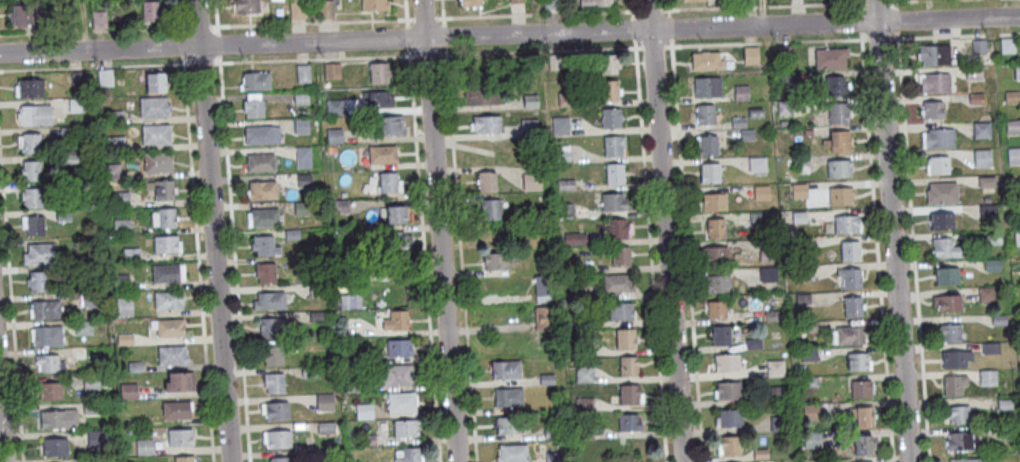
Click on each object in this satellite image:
building: (696, 0)
building: (516, 1)
road: (858, 1)
road: (893, 1)
road: (915, 1)
building: (471, 2)
road: (876, 2)
building: (375, 3)
building: (550, 3)
building: (595, 3)
road: (668, 4)
road: (631, 5)
building: (245, 6)
road: (764, 6)
building: (326, 7)
building: (297, 8)
road: (405, 9)
road: (442, 9)
road: (650, 9)
building: (26, 10)
building: (151, 10)
road: (177, 13)
road: (215, 13)
road: (537, 14)
road: (424, 18)
road: (895, 19)
building: (100, 20)
building: (70, 21)
road: (859, 21)
road: (311, 22)
road: (197, 26)
road: (670, 27)
road: (89, 30)
road: (443, 35)
road: (510, 35)
road: (958, 35)
road: (407, 36)
road: (879, 38)
road: (218, 43)
road: (766, 43)
building: (1007, 44)
building: (979, 45)
road: (654, 47)
road: (540, 51)
building: (784, 52)
building: (935, 52)
road: (426, 54)
building: (751, 54)
building: (831, 56)
road: (314, 58)
building: (707, 59)
road: (202, 61)
building: (555, 61)
building: (608, 61)
road: (92, 66)
building: (333, 69)
building: (380, 70)
building: (974, 70)
building: (1017, 70)
building: (304, 72)
building: (106, 76)
building: (76, 77)
building: (257, 78)
building: (784, 79)
building: (156, 80)
building: (935, 80)
building: (836, 82)
building: (707, 85)
building: (31, 86)
building: (609, 87)
building: (742, 92)
building: (481, 93)
building: (1012, 96)
building: (976, 97)
building: (302, 98)
building: (381, 98)
building: (566, 98)
building: (530, 100)
building: (76, 104)
building: (154, 105)
building: (253, 106)
building: (335, 106)
building: (784, 106)
building: (932, 107)
building: (838, 110)
building: (756, 111)
building: (705, 112)
building: (36, 114)
building: (116, 115)
building: (611, 116)
building: (739, 121)
building: (390, 123)
building: (486, 123)
building: (1013, 124)
building: (302, 125)
building: (561, 125)
building: (529, 126)
building: (982, 128)
building: (808, 130)
building: (67, 131)
building: (262, 132)
building: (156, 133)
building: (747, 133)
building: (334, 135)
building: (940, 136)
building: (840, 138)
building: (30, 141)
building: (115, 141)
building: (708, 142)
building: (614, 143)
building: (383, 153)
building: (562, 153)
building: (1014, 154)
building: (304, 156)
building: (982, 157)
building: (70, 158)
building: (802, 159)
building: (158, 160)
building: (261, 160)
building: (757, 162)
building: (939, 163)
building: (839, 166)
building: (32, 169)
building: (112, 170)
building: (710, 171)
building: (615, 172)
building: (304, 179)
building: (486, 180)
building: (390, 181)
building: (532, 181)
building: (987, 181)
building: (1019, 183)
building: (566, 184)
building: (164, 188)
building: (263, 188)
building: (800, 189)
building: (761, 191)
building: (942, 192)
building: (840, 193)
building: (33, 196)
building: (121, 198)
building: (714, 199)
building: (614, 200)
building: (340, 205)
building: (305, 207)
building: (490, 207)
building: (567, 210)
building: (989, 210)
building: (396, 211)
building: (64, 215)
building: (167, 216)
building: (265, 216)
building: (799, 216)
building: (757, 218)
building: (943, 219)
building: (847, 222)
building: (33, 223)
building: (122, 226)
building: (716, 226)
building: (619, 227)
road: (211, 231)
road: (438, 231)
road: (665, 231)
road: (892, 231)
building: (292, 234)
building: (993, 237)
building: (1017, 237)
building: (393, 238)
building: (575, 238)
building: (804, 242)
building: (166, 244)
building: (265, 244)
building: (945, 247)
building: (767, 249)
building: (850, 249)
road: (876, 250)
road: (912, 250)
building: (715, 252)
building: (40, 253)
building: (132, 254)
road: (687, 254)
building: (621, 255)
road: (650, 255)
road: (460, 257)
road: (424, 258)
building: (496, 259)
road: (233, 261)
road: (197, 262)
building: (347, 262)
building: (572, 264)
building: (992, 264)
building: (169, 271)
building: (266, 271)
building: (768, 272)
building: (806, 272)
building: (947, 273)
building: (850, 275)
building: (38, 279)
building: (121, 281)
building: (718, 281)
building: (618, 282)
building: (544, 288)
building: (317, 291)
building: (578, 293)
building: (986, 293)
building: (169, 298)
building: (803, 298)
building: (91, 299)
building: (270, 300)
building: (948, 300)
building: (351, 301)
building: (853, 304)
building: (124, 306)
road: (11, 307)
building: (46, 308)
building: (717, 308)
building: (621, 310)
building: (772, 314)
building: (318, 316)
building: (545, 318)
building: (396, 319)
building: (999, 319)
building: (576, 320)
building: (808, 325)
building: (84, 326)
building: (170, 326)
building: (273, 326)
building: (950, 330)
building: (721, 333)
building: (48, 334)
building: (848, 334)
building: (125, 338)
building: (626, 338)
building: (753, 342)
building: (295, 344)
building: (399, 346)
building: (584, 347)
building: (991, 347)
building: (78, 352)
building: (173, 353)
building: (272, 354)
building: (809, 354)
building: (956, 356)
building: (726, 360)
building: (858, 360)
building: (51, 361)
building: (135, 365)
building: (628, 365)
building: (775, 367)
building: (506, 368)
building: (309, 371)
building: (398, 373)
building: (584, 373)
building: (988, 377)
building: (547, 378)
building: (180, 379)
building: (92, 381)
building: (274, 381)
building: (811, 381)
building: (357, 382)
building: (954, 383)
building: (861, 387)
building: (50, 389)
building: (728, 389)
building: (128, 390)
building: (630, 393)
building: (776, 394)
building: (508, 395)
building: (325, 401)
building: (401, 401)
building: (584, 403)
building: (1005, 403)
building: (92, 407)
building: (176, 408)
building: (277, 409)
building: (365, 410)
building: (812, 412)
building: (958, 412)
building: (864, 413)
building: (730, 417)
building: (59, 418)
building: (629, 421)
building: (509, 423)
building: (775, 423)
building: (326, 426)
building: (405, 426)
building: (584, 431)
building: (1008, 431)
building: (552, 432)
building: (180, 435)
building: (277, 437)
building: (97, 438)
building: (368, 438)
building: (963, 438)
building: (812, 439)
road: (1, 441)
building: (864, 442)
building: (730, 444)
building: (55, 445)
building: (145, 446)
building: (512, 452)
building: (760, 453)
building: (327, 454)
building: (407, 454)
building: (554, 456)
building: (184, 458)
building: (286, 458)
building: (101, 459)
building: (970, 459)
building: (735, 461)
building: (863, 461)

